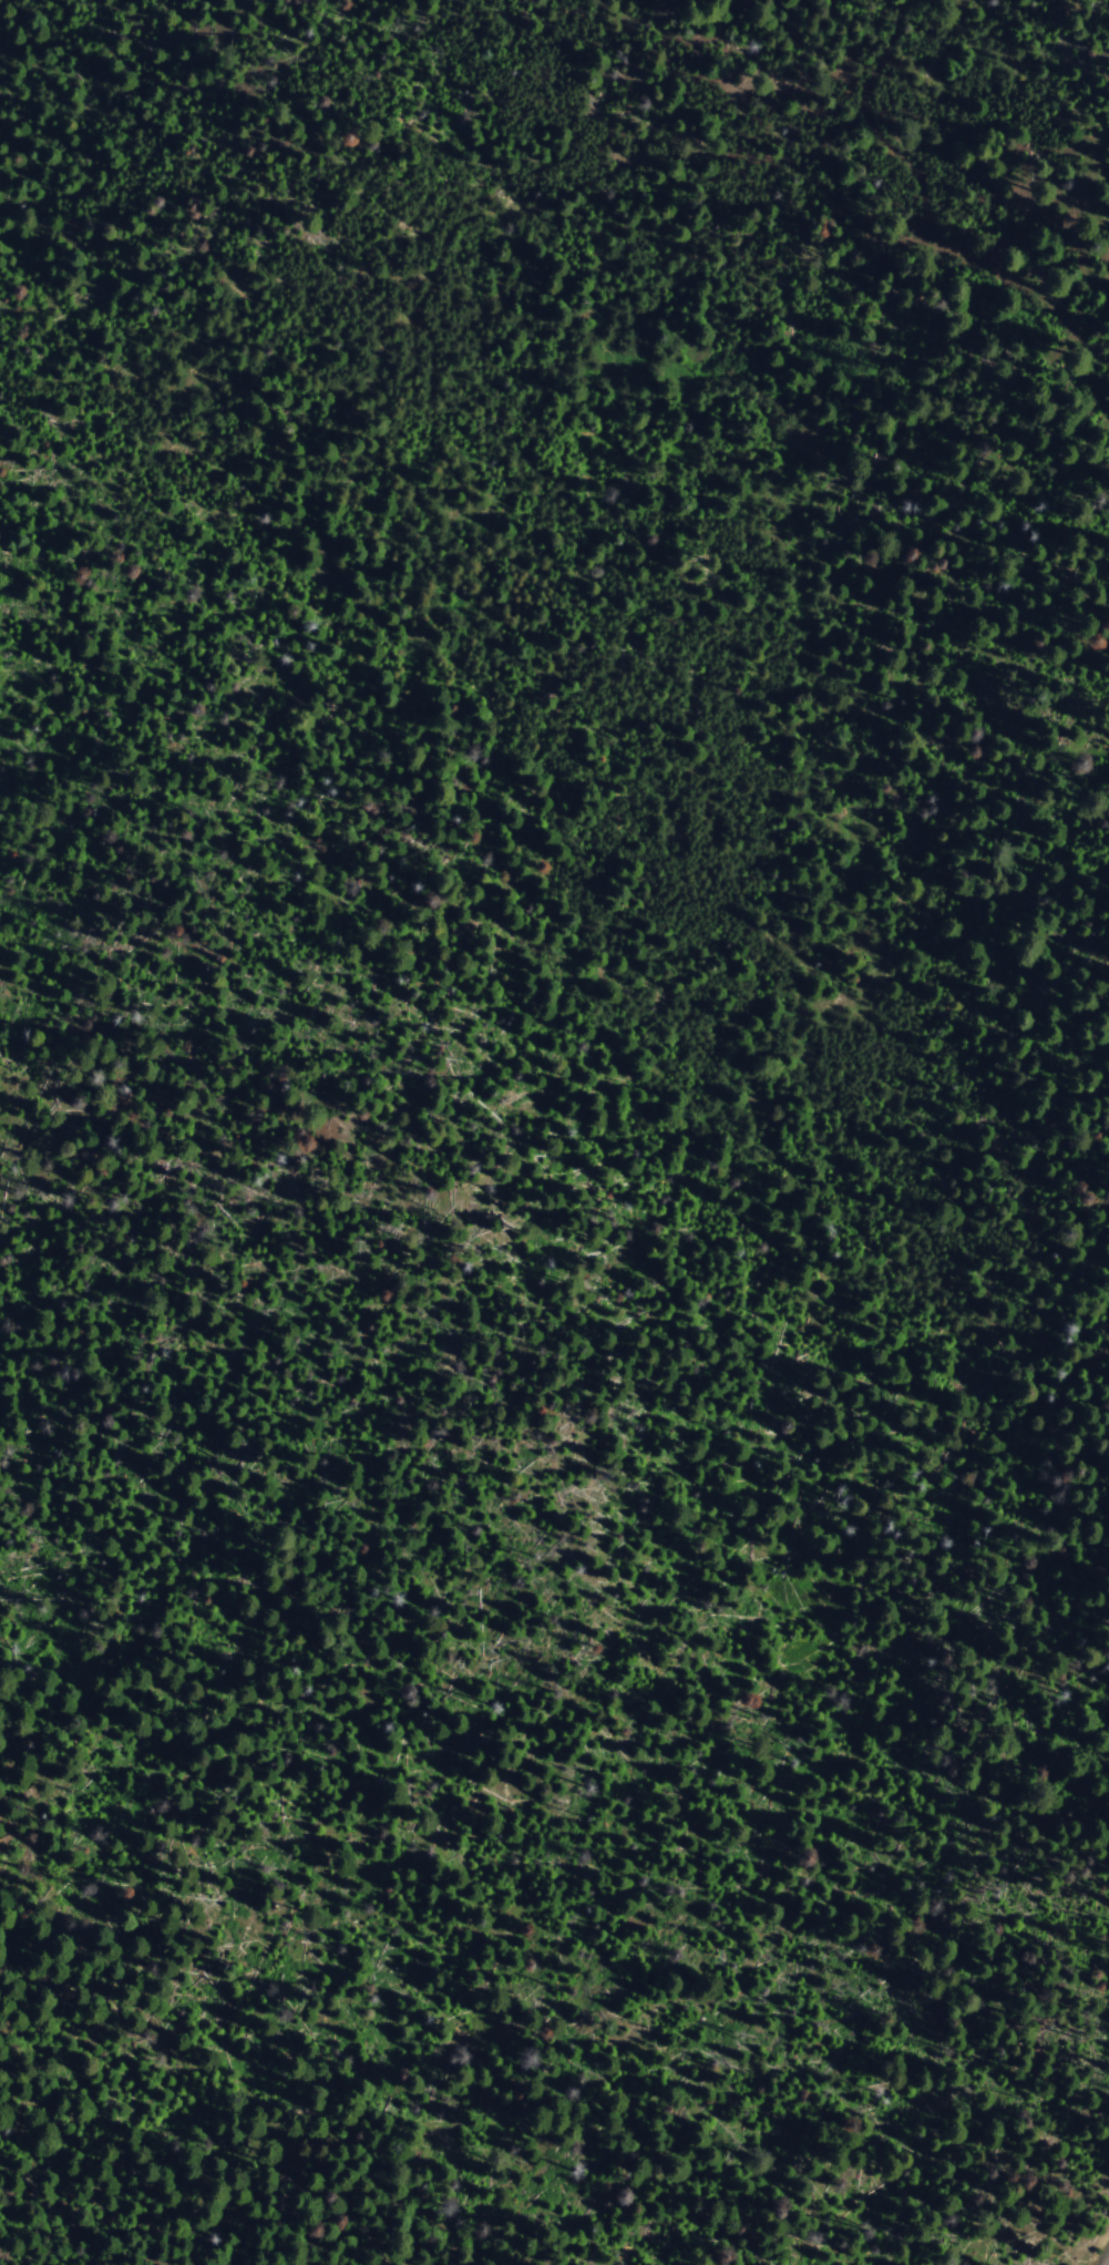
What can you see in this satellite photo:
road: (990, 222)

